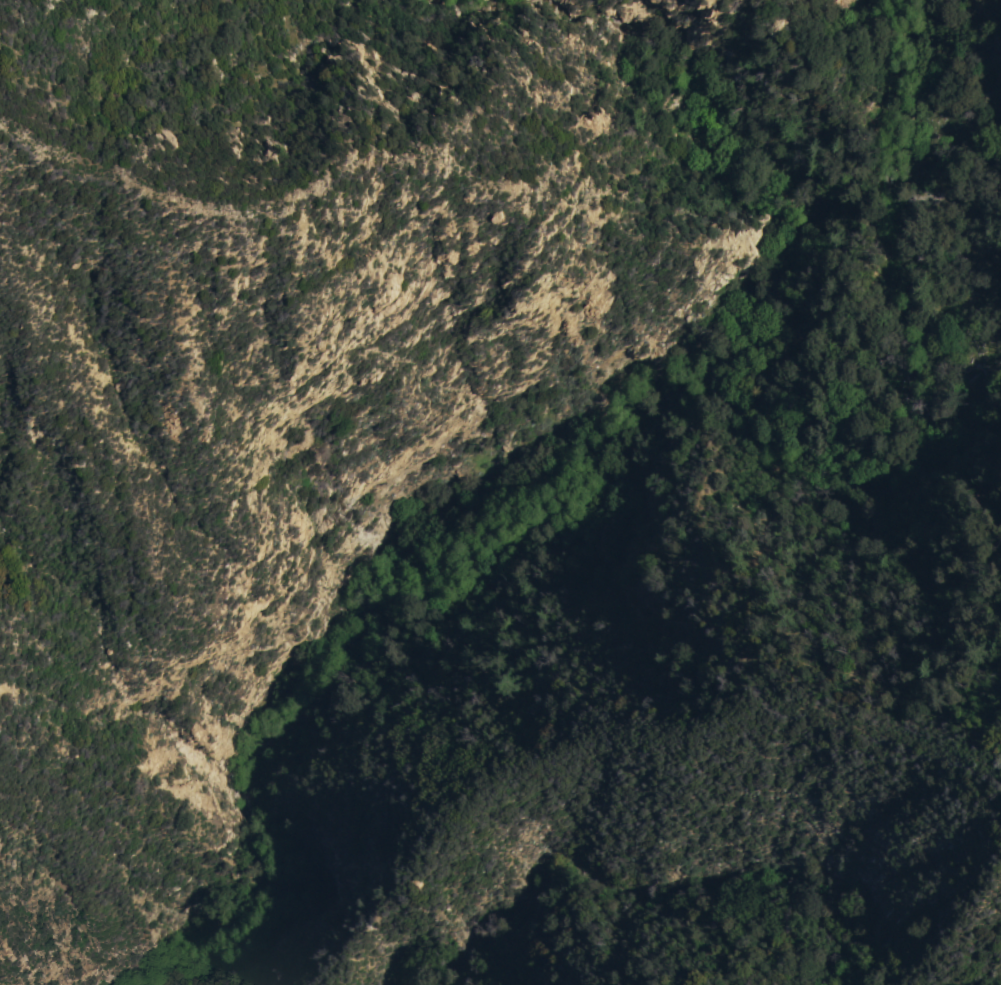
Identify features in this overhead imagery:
road: (969, 159)
road: (750, 651)

